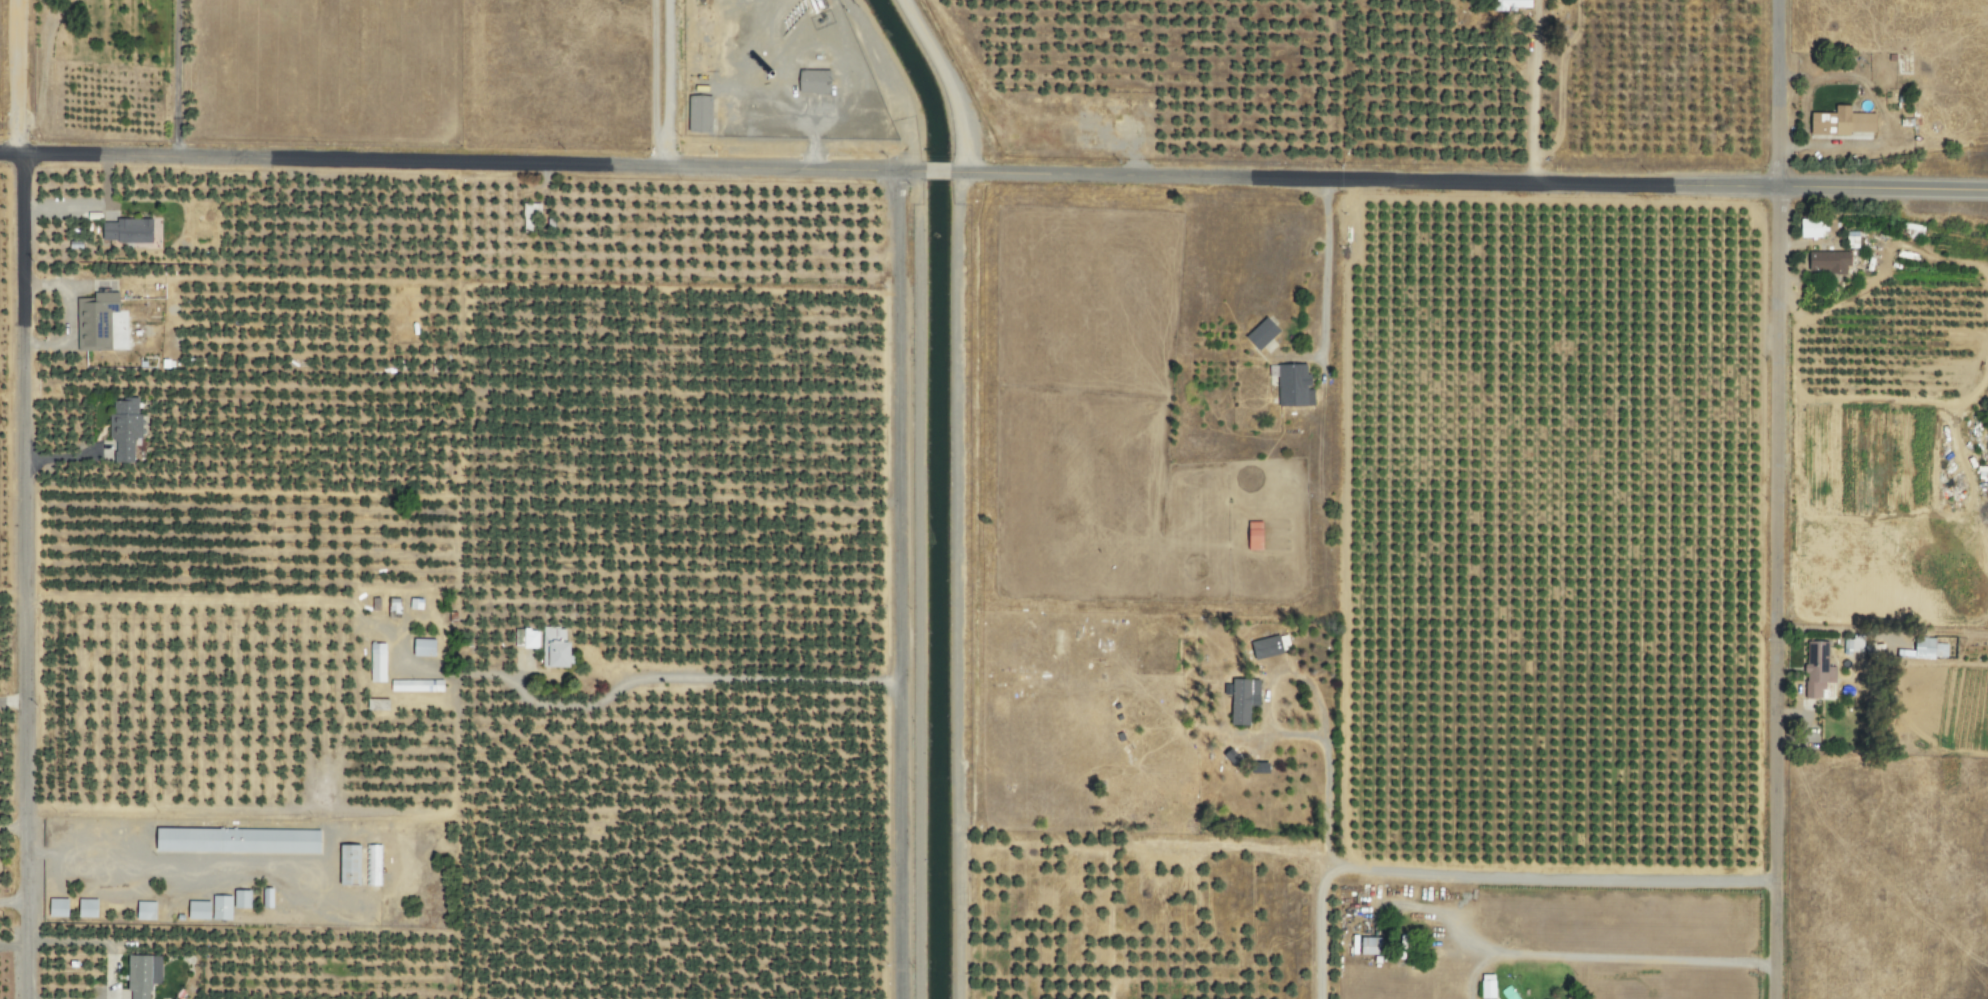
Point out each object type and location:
building: (1512, 5)
road: (652, 74)
road: (15, 76)
road: (894, 81)
road: (948, 81)
road: (667, 82)
building: (815, 82)
building: (700, 114)
building: (1843, 122)
road: (11, 151)
road: (471, 161)
road: (935, 170)
road: (1362, 178)
road: (1882, 188)
building: (1811, 228)
building: (127, 231)
building: (1852, 240)
road: (1323, 289)
building: (96, 321)
building: (1263, 333)
building: (1294, 386)
building: (124, 429)
road: (1771, 499)
building: (1255, 535)
road: (23, 575)
road: (896, 584)
building: (415, 604)
building: (526, 639)
building: (1270, 647)
building: (424, 648)
building: (556, 648)
building: (1929, 649)
building: (377, 663)
building: (1819, 672)
building: (417, 686)
building: (1244, 700)
road: (11, 703)
building: (377, 705)
building: (1233, 758)
building: (238, 841)
building: (350, 865)
building: (372, 865)
road: (1484, 875)
building: (242, 898)
building: (58, 907)
building: (221, 907)
building: (88, 908)
building: (146, 910)
building: (199, 910)
building: (1366, 945)
road: (1561, 956)
road: (1476, 967)
building: (143, 975)
building: (1488, 985)

